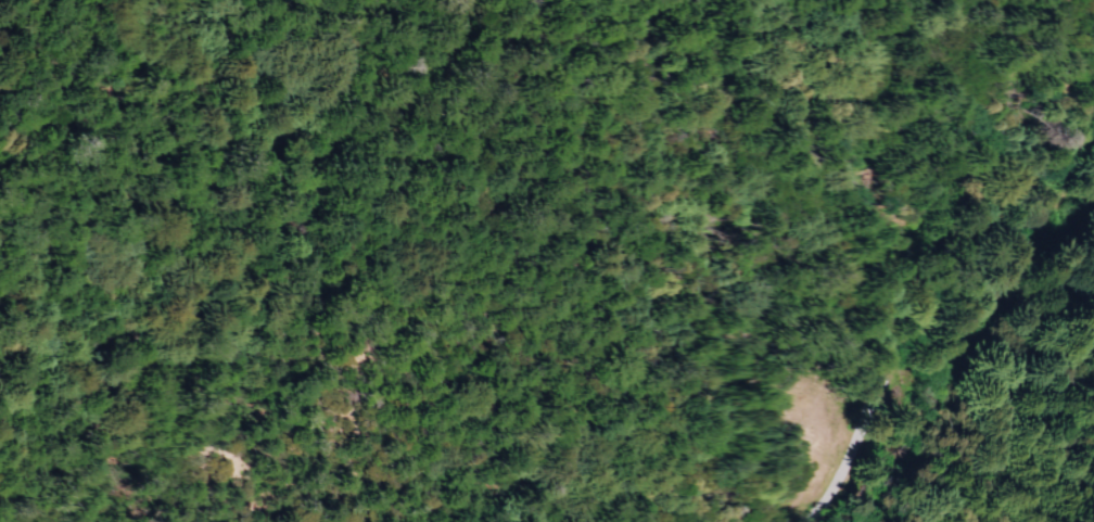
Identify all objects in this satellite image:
road: (41, 68)
road: (937, 321)

